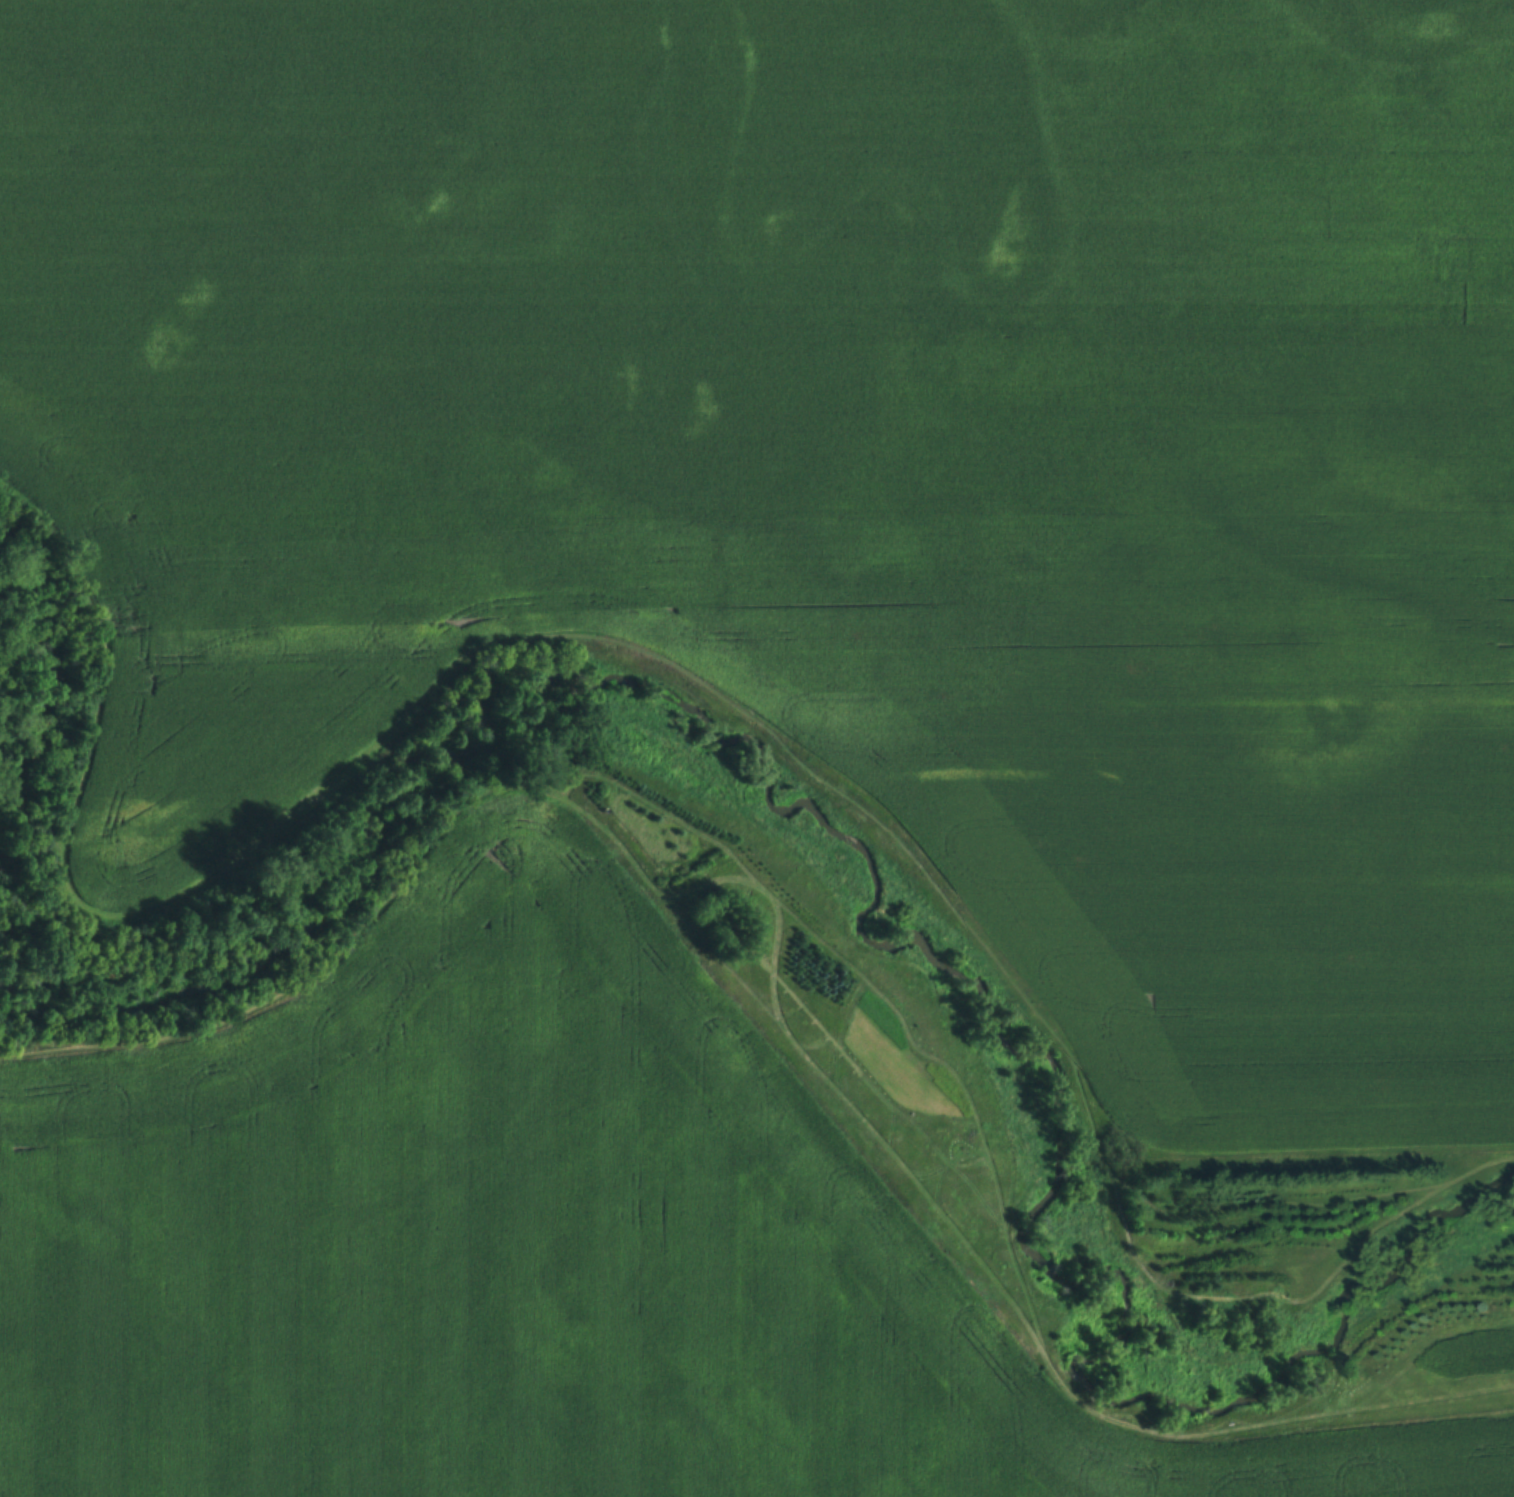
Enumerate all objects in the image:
river: (57, 684)
river: (866, 895)

